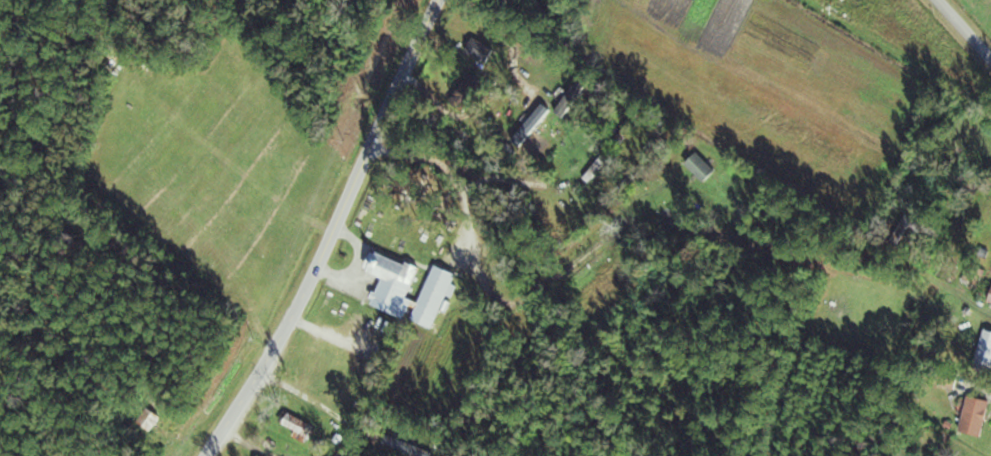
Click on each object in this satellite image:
road: (964, 29)
building: (705, 168)
road: (338, 232)
building: (411, 289)
building: (987, 350)
building: (978, 417)
building: (152, 420)
building: (301, 425)
building: (409, 448)

